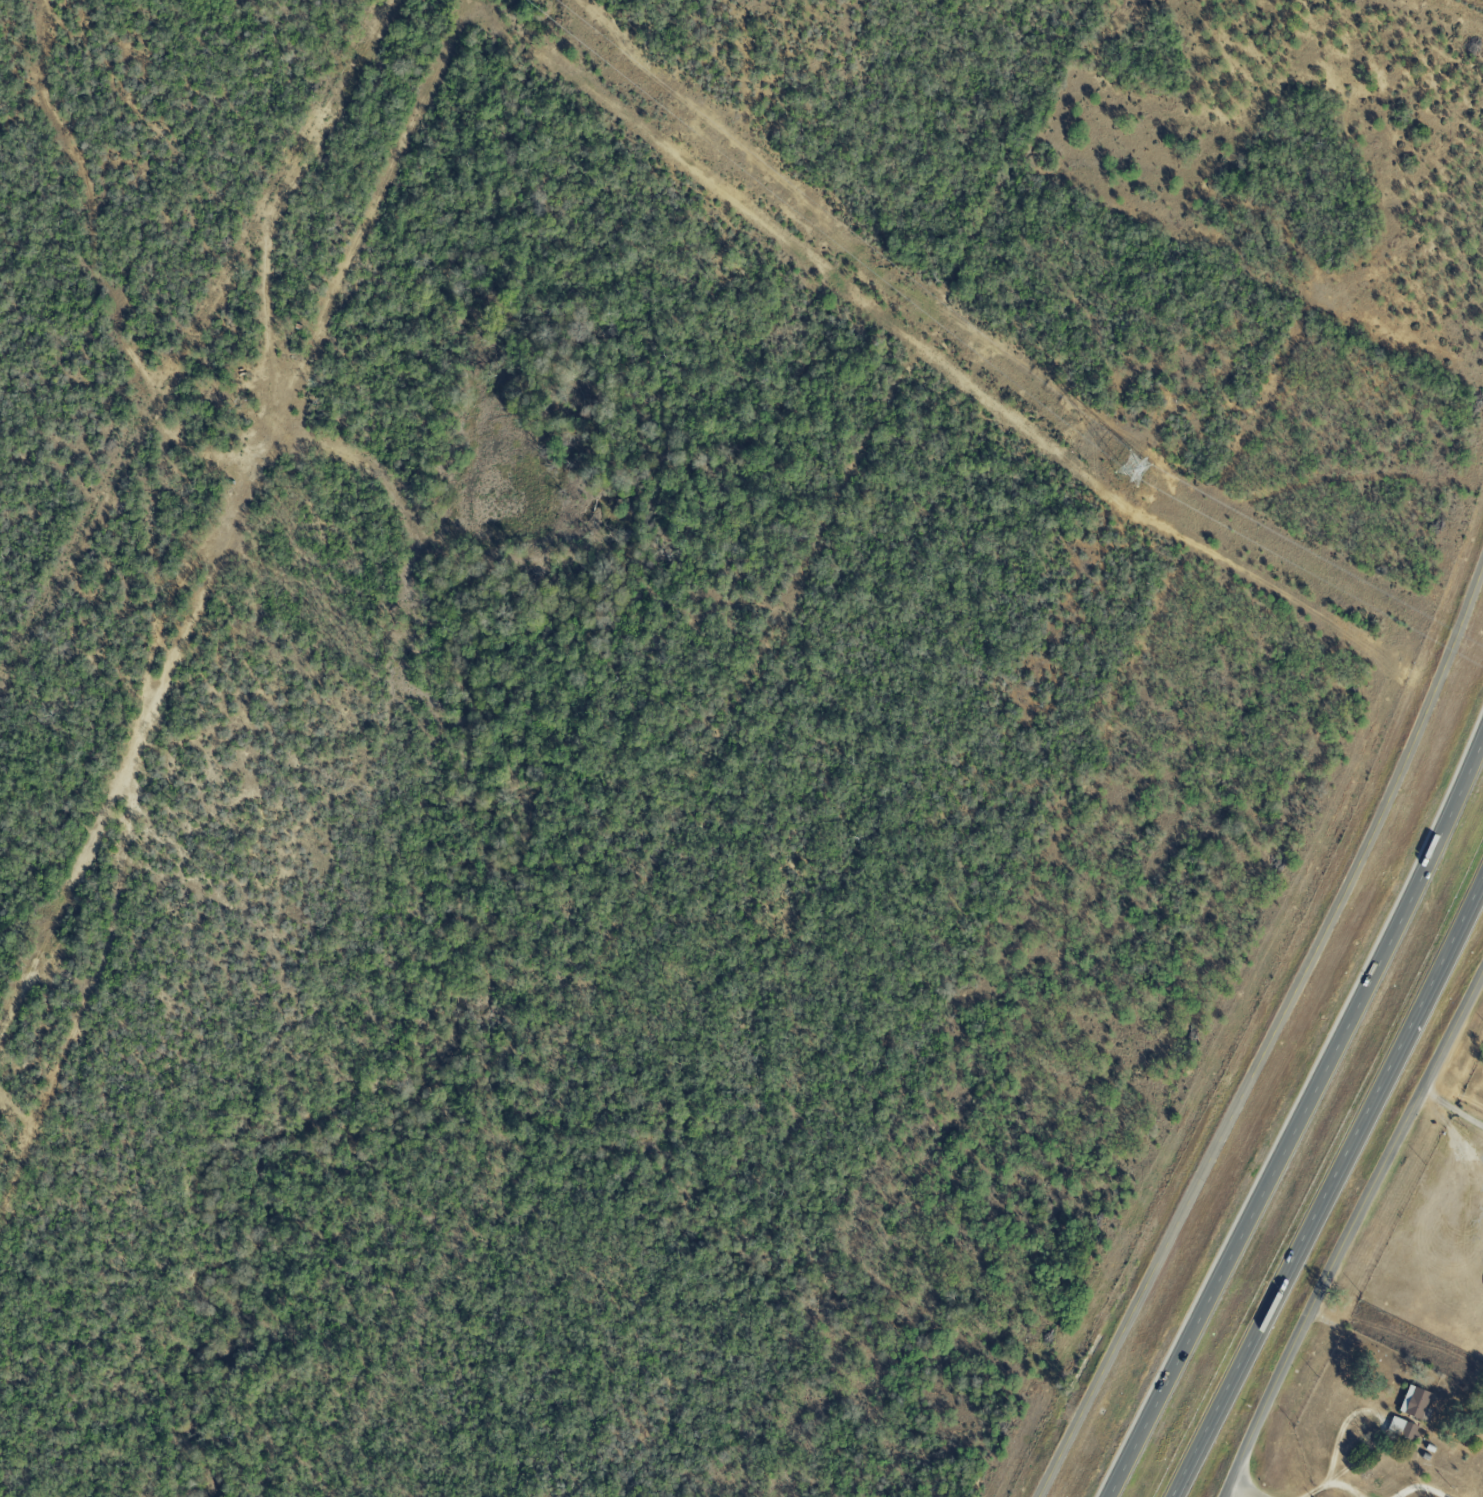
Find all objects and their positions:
power tower: (1131, 464)
road: (1272, 1038)
road: (1452, 1107)
road: (1300, 1119)
road: (1330, 1191)
road: (1348, 1231)
building: (1415, 1403)
building: (1402, 1427)
road: (1332, 1454)
road: (1343, 1486)
road: (1420, 1486)
road: (1241, 1491)

